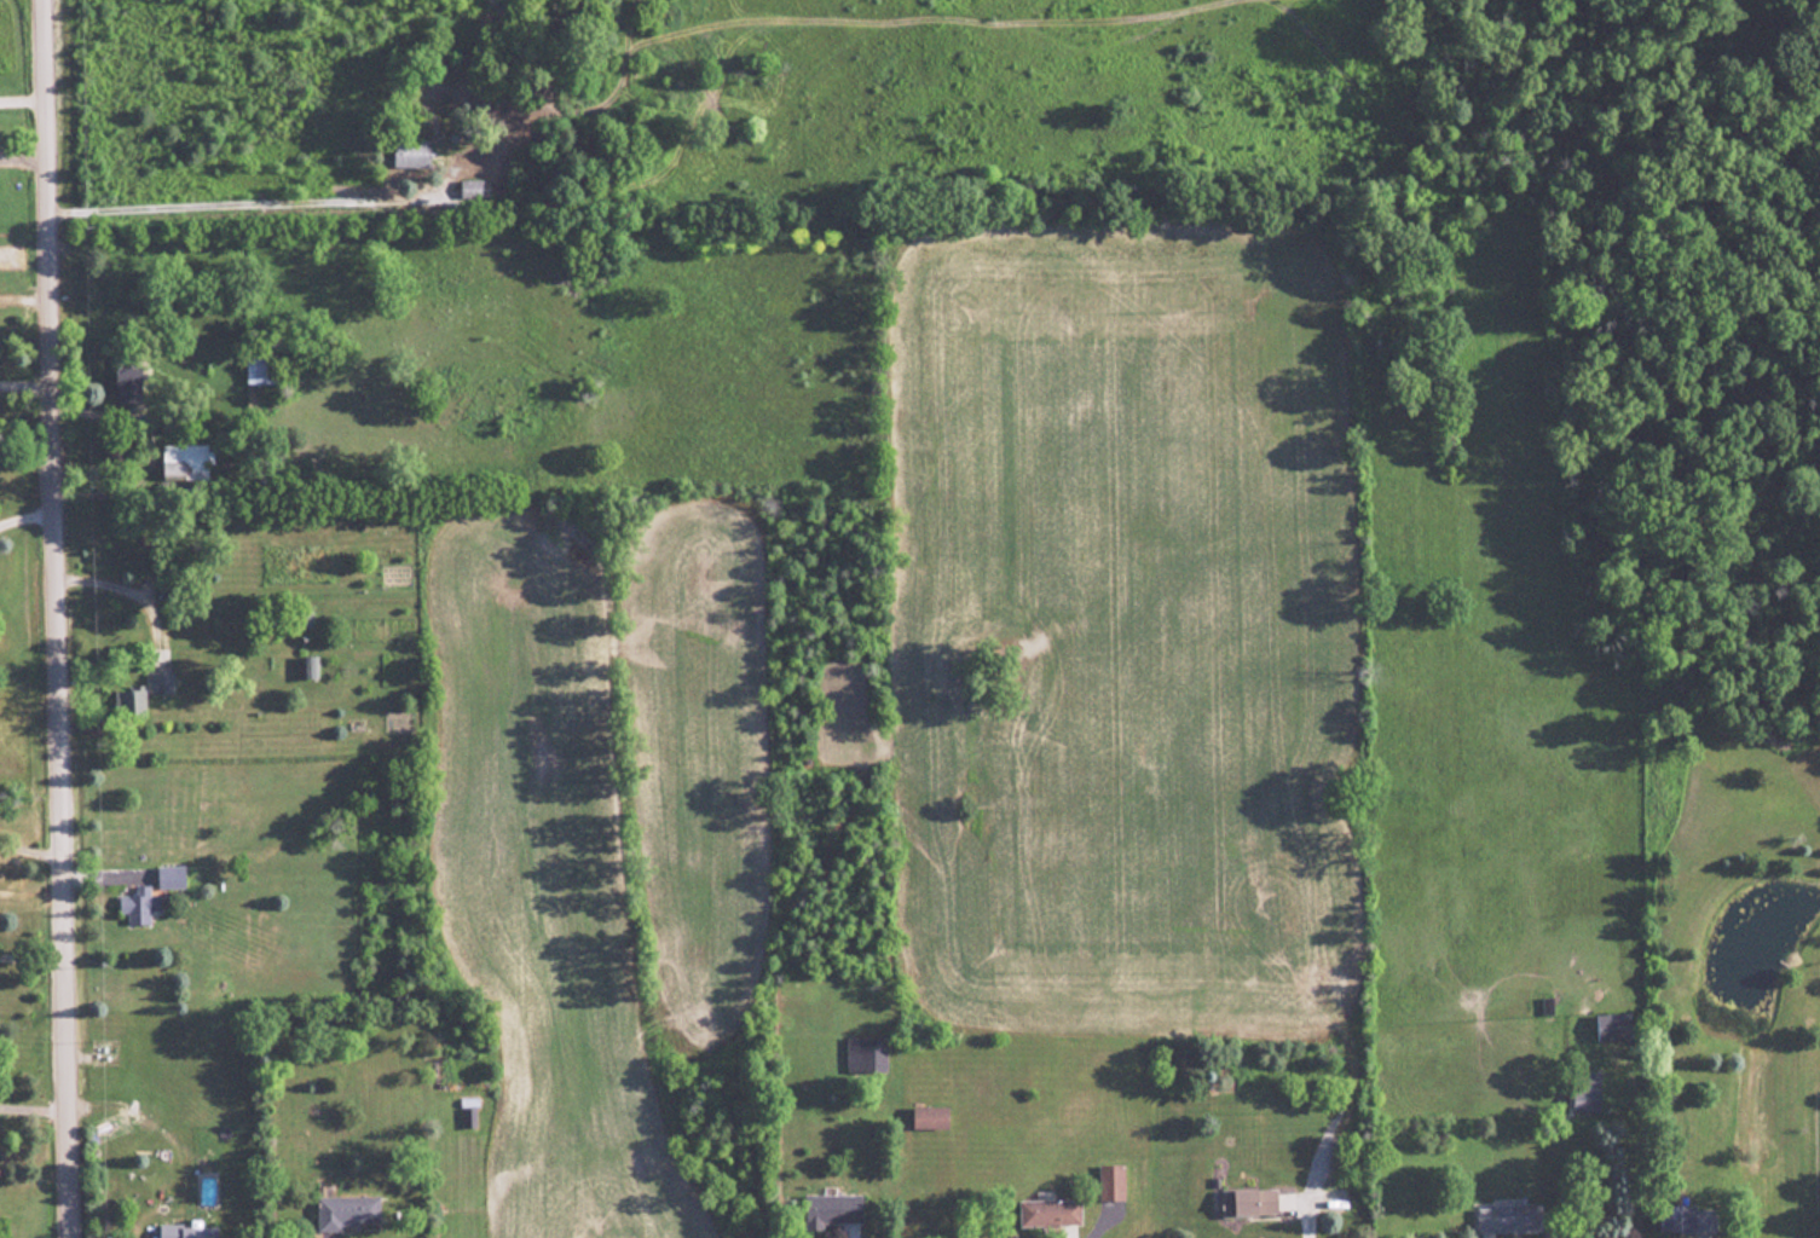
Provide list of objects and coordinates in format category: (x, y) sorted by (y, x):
road: (23, 100)
building: (510, 132)
building: (409, 154)
building: (483, 189)
road: (241, 202)
road: (24, 299)
building: (258, 369)
building: (125, 384)
road: (148, 451)
building: (183, 461)
road: (27, 517)
road: (127, 592)
road: (57, 618)
building: (307, 666)
building: (160, 681)
building: (127, 701)
building: (168, 877)
building: (137, 904)
road: (31, 955)
building: (1611, 1026)
building: (863, 1054)
building: (1584, 1093)
building: (926, 1117)
road: (1639, 1159)
building: (1108, 1181)
building: (1246, 1202)
building: (828, 1209)
building: (343, 1211)
building: (1047, 1213)
road: (1304, 1217)
building: (1507, 1219)
building: (1685, 1219)
road: (1098, 1223)
building: (185, 1231)

